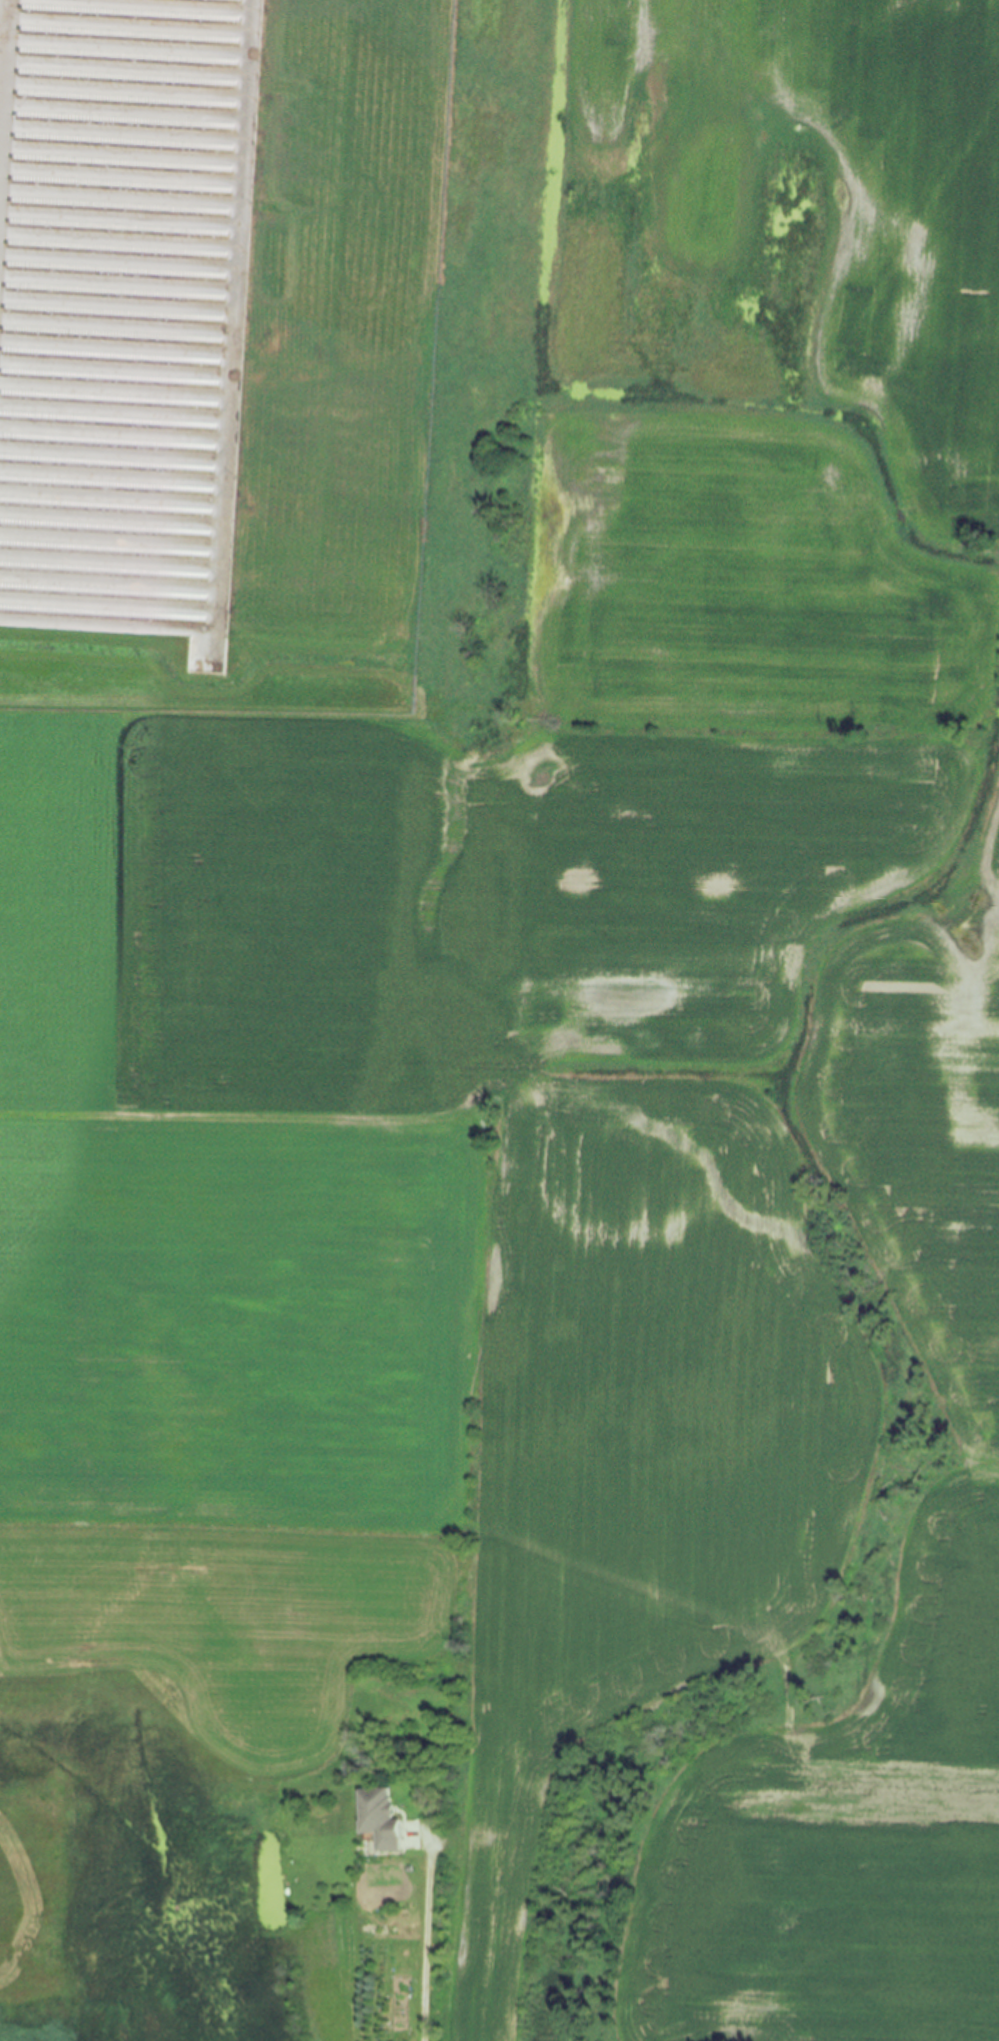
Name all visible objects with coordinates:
road: (0, 6)
building: (386, 1821)
road: (426, 1939)

